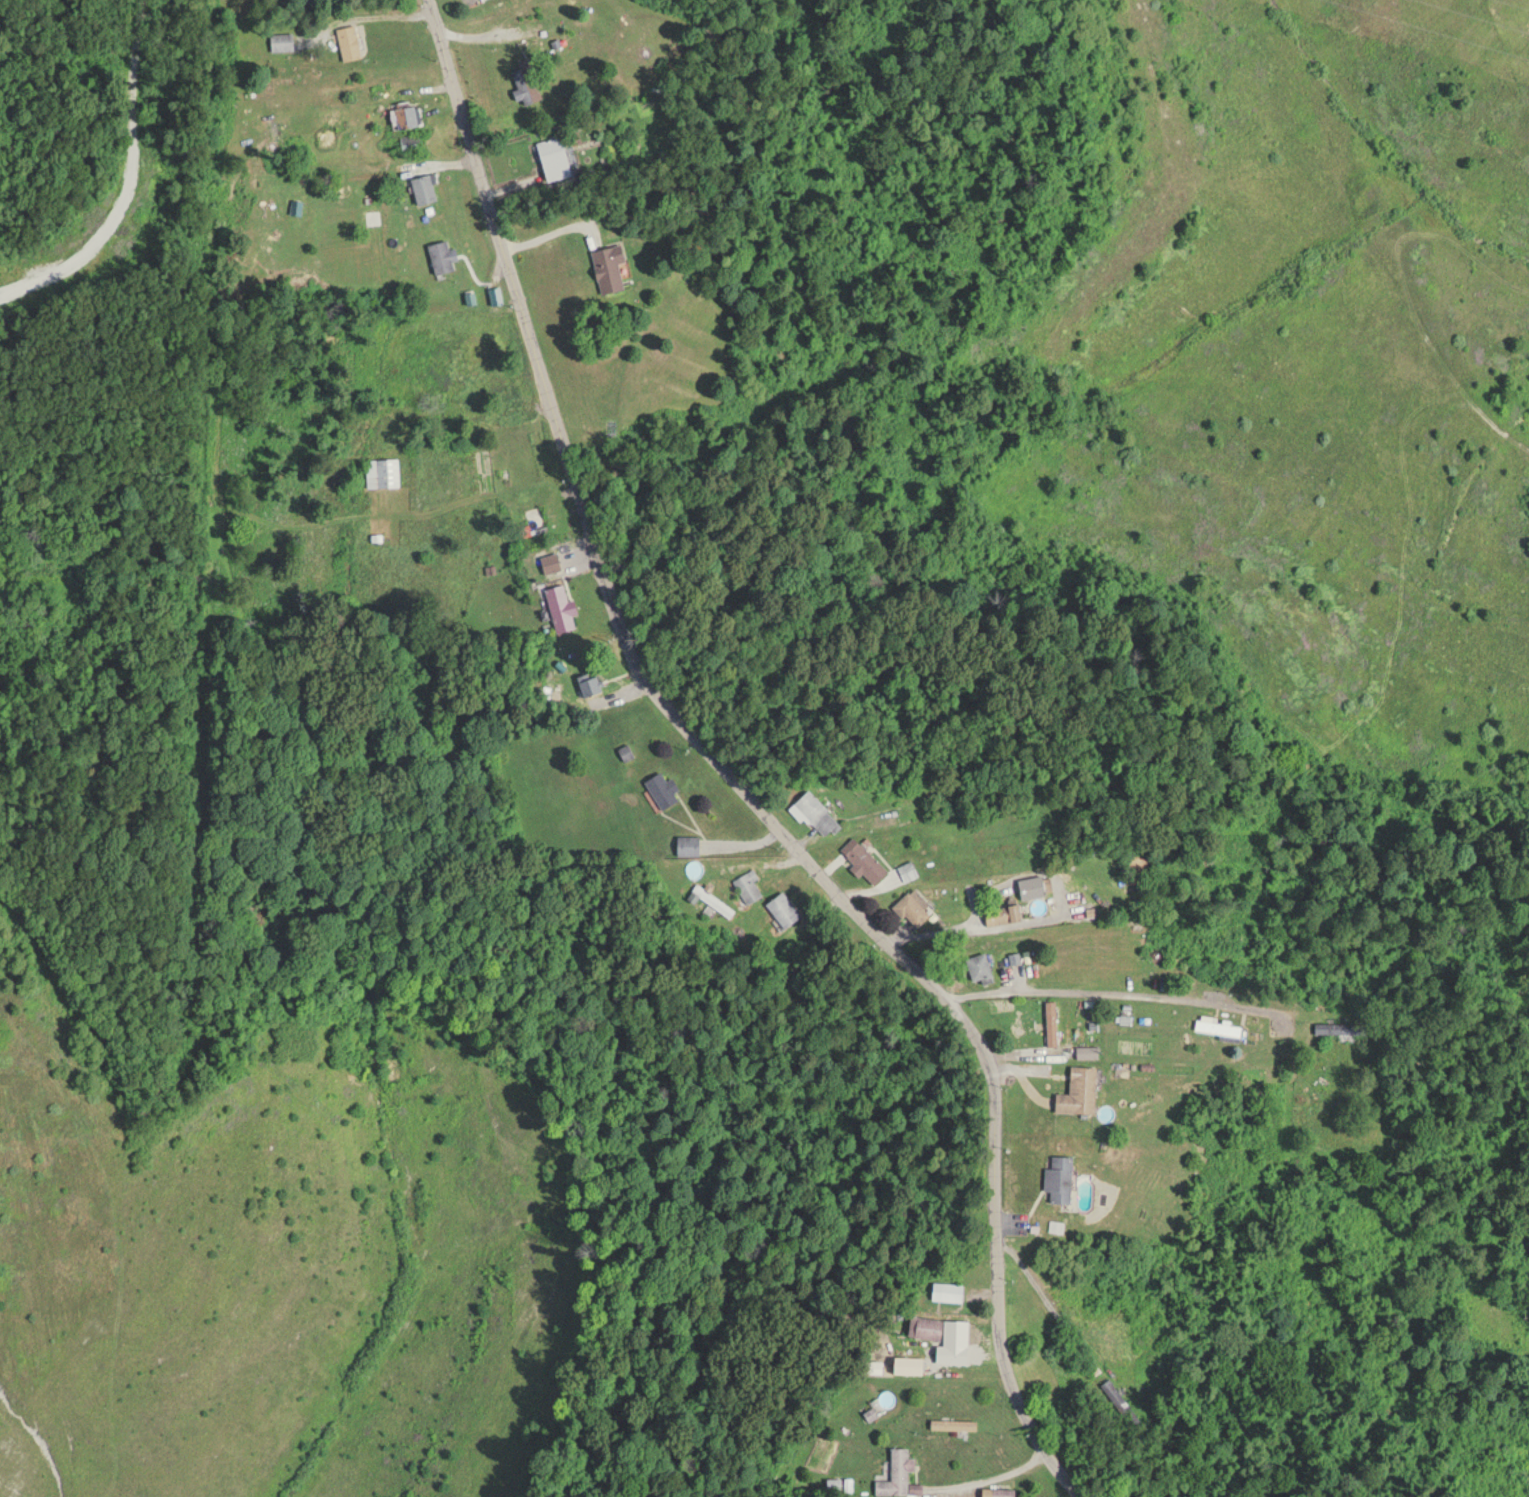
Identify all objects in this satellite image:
road: (384, 19)
building: (350, 41)
road: (63, 74)
building: (526, 83)
building: (409, 113)
building: (412, 141)
building: (555, 156)
building: (426, 187)
building: (443, 254)
building: (610, 266)
building: (475, 350)
building: (383, 471)
building: (535, 515)
building: (551, 561)
building: (558, 603)
building: (591, 682)
road: (730, 780)
building: (664, 788)
building: (817, 813)
building: (689, 844)
building: (864, 859)
building: (748, 884)
building: (1036, 885)
building: (714, 899)
building: (785, 907)
building: (915, 907)
building: (1009, 912)
road: (930, 929)
building: (980, 966)
road: (1114, 992)
building: (1051, 1021)
building: (1220, 1025)
building: (1343, 1027)
building: (1089, 1050)
building: (1080, 1090)
building: (1062, 1178)
building: (1056, 1225)
building: (948, 1290)
building: (930, 1324)
building: (954, 1422)
building: (900, 1473)
building: (1000, 1491)

